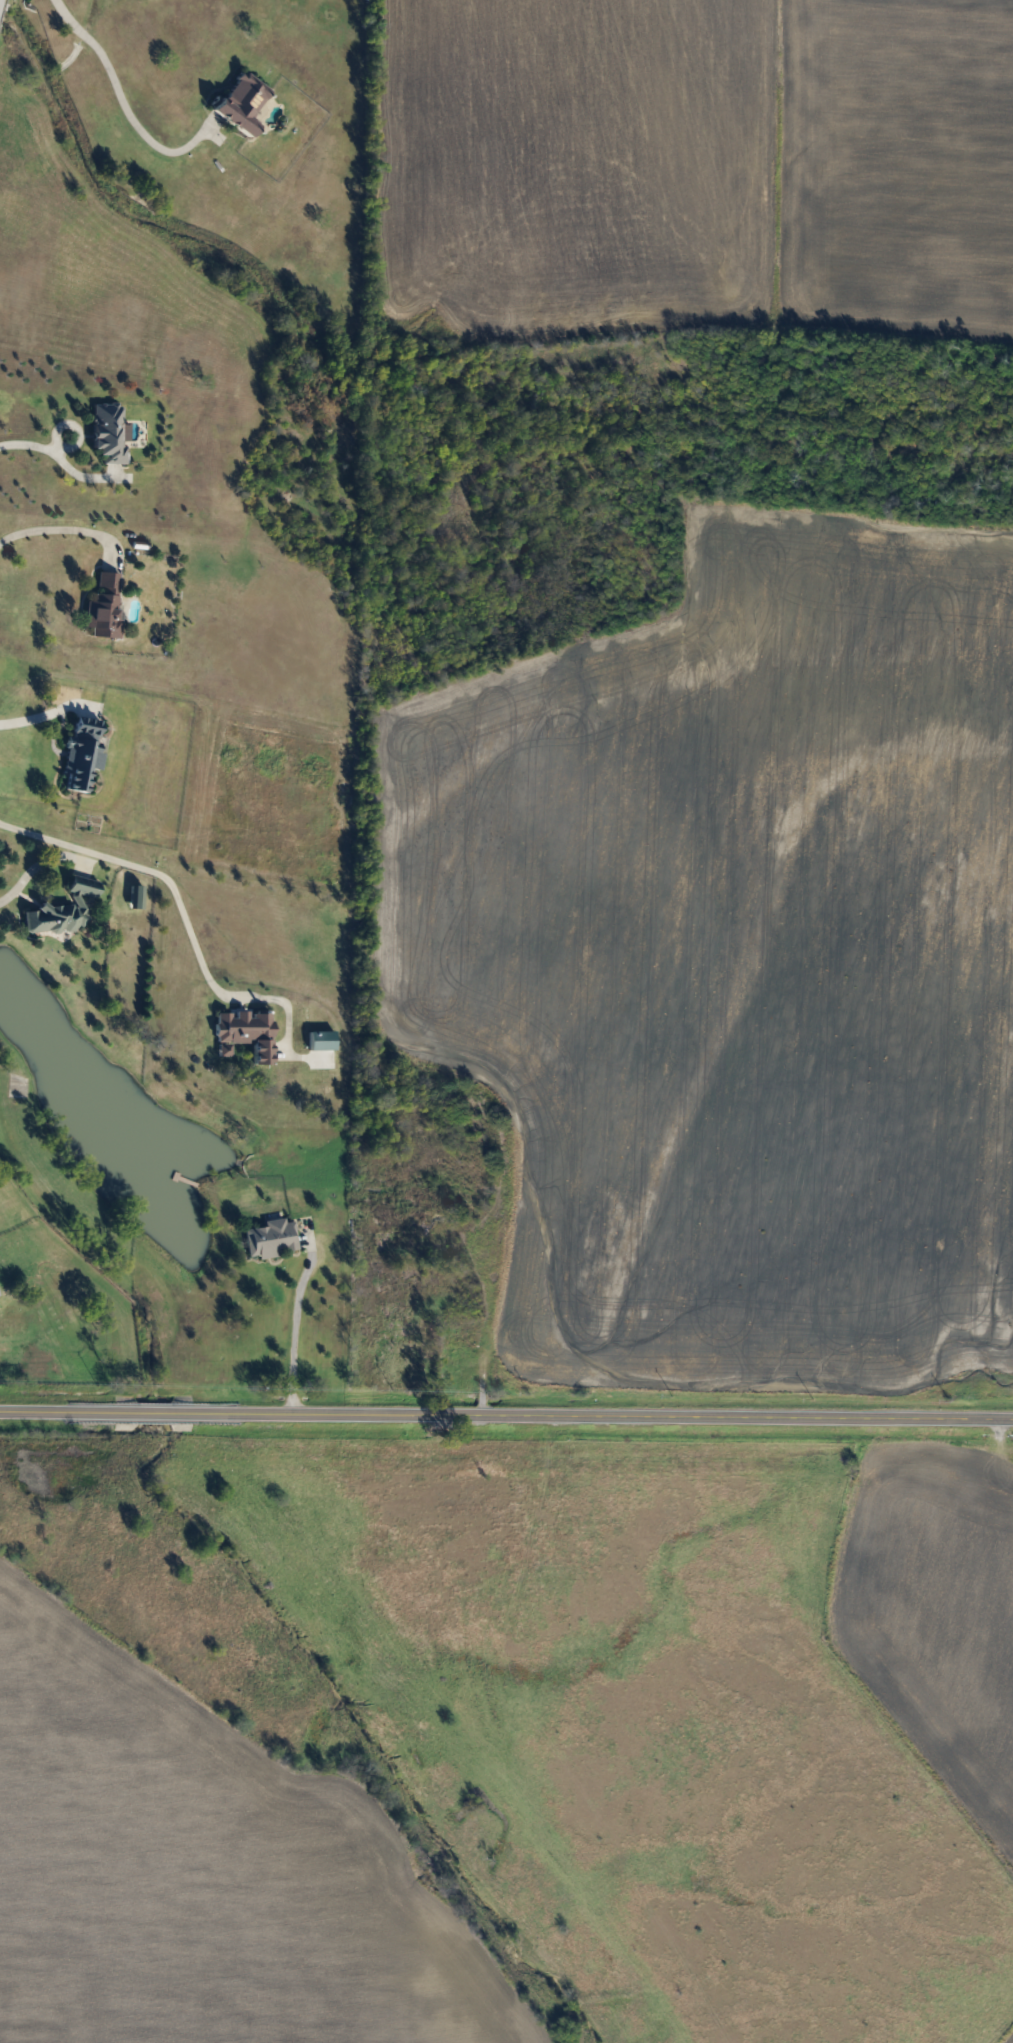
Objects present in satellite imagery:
road: (113, 91)
building: (239, 103)
building: (106, 432)
road: (55, 457)
road: (54, 525)
building: (103, 606)
road: (41, 713)
road: (36, 864)
building: (134, 895)
road: (165, 898)
building: (60, 909)
crop: (730, 966)
building: (269, 1238)
road: (295, 1326)
road: (506, 1414)

